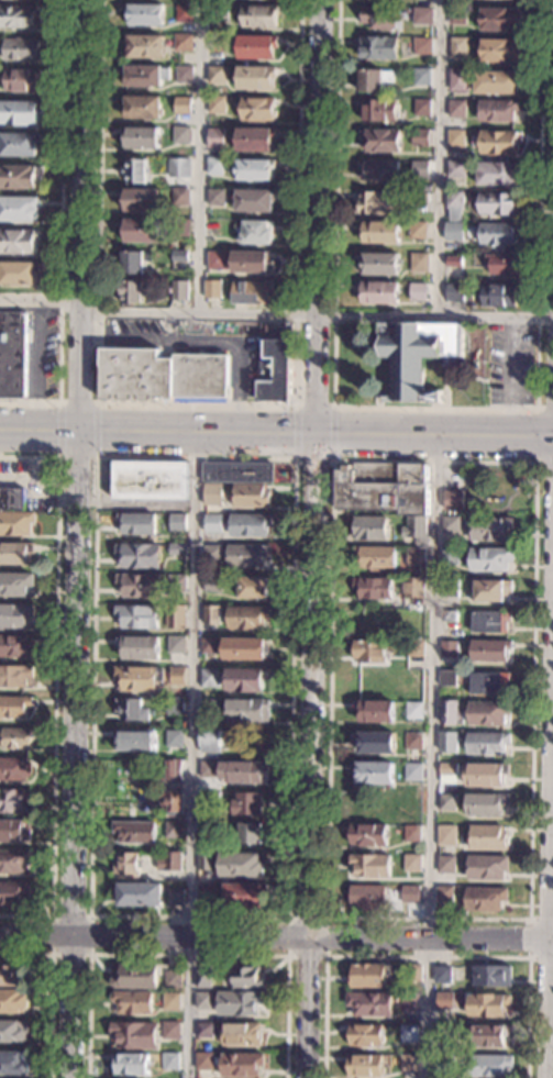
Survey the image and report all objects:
building: (219, 12)
building: (184, 13)
building: (145, 14)
building: (259, 15)
building: (421, 15)
building: (378, 16)
building: (457, 16)
building: (18, 18)
building: (499, 20)
building: (184, 42)
building: (218, 43)
building: (422, 45)
building: (144, 46)
building: (257, 46)
building: (458, 47)
building: (377, 48)
building: (21, 49)
building: (498, 51)
building: (184, 75)
building: (217, 75)
building: (421, 76)
building: (146, 77)
building: (255, 77)
building: (21, 80)
building: (369, 80)
building: (457, 80)
building: (497, 82)
building: (214, 92)
building: (217, 104)
building: (183, 105)
building: (143, 108)
building: (421, 108)
building: (258, 109)
building: (456, 109)
building: (378, 110)
building: (497, 111)
building: (21, 112)
building: (181, 135)
building: (215, 136)
building: (420, 137)
building: (455, 137)
building: (142, 138)
building: (254, 141)
building: (381, 142)
building: (496, 142)
building: (19, 145)
road: (198, 155)
road: (441, 157)
building: (213, 167)
building: (178, 168)
building: (420, 169)
building: (455, 169)
building: (253, 170)
building: (379, 170)
building: (135, 171)
building: (497, 173)
building: (19, 178)
building: (181, 197)
building: (215, 197)
building: (143, 201)
building: (254, 201)
building: (419, 202)
building: (377, 203)
building: (497, 203)
building: (454, 205)
building: (19, 209)
building: (180, 226)
building: (417, 230)
road: (60, 231)
building: (143, 231)
building: (453, 231)
building: (256, 233)
building: (379, 233)
building: (497, 234)
building: (18, 242)
building: (179, 256)
building: (217, 260)
building: (419, 260)
building: (454, 262)
building: (133, 263)
building: (251, 263)
building: (500, 264)
building: (380, 265)
building: (18, 274)
building: (179, 290)
building: (212, 290)
building: (131, 292)
building: (418, 292)
building: (455, 292)
building: (253, 293)
building: (379, 293)
building: (498, 296)
road: (41, 298)
road: (317, 312)
road: (203, 341)
building: (417, 355)
building: (12, 356)
parking lot: (510, 363)
building: (276, 364)
building: (163, 376)
road: (510, 376)
road: (77, 403)
road: (197, 405)
road: (313, 407)
road: (435, 407)
road: (58, 430)
road: (96, 430)
road: (295, 433)
road: (333, 433)
road: (276, 434)
road: (535, 436)
road: (77, 457)
road: (313, 459)
building: (237, 473)
building: (151, 481)
building: (383, 488)
building: (212, 494)
building: (252, 496)
building: (11, 499)
building: (453, 500)
road: (139, 504)
building: (15, 523)
building: (136, 523)
building: (177, 523)
building: (212, 523)
building: (451, 523)
building: (248, 524)
building: (369, 527)
building: (490, 530)
building: (416, 531)
road: (79, 538)
road: (317, 538)
building: (176, 549)
building: (16, 553)
building: (213, 554)
building: (139, 555)
building: (247, 556)
building: (449, 556)
building: (375, 557)
building: (416, 557)
building: (489, 558)
building: (15, 584)
building: (176, 584)
building: (212, 584)
building: (139, 585)
building: (252, 587)
building: (373, 588)
building: (412, 588)
building: (449, 588)
building: (490, 591)
building: (211, 614)
building: (15, 615)
building: (137, 616)
building: (175, 616)
building: (246, 618)
building: (489, 621)
building: (176, 644)
building: (209, 645)
building: (15, 646)
building: (139, 647)
building: (245, 647)
building: (413, 648)
building: (449, 649)
building: (489, 651)
building: (369, 652)
building: (14, 676)
building: (176, 677)
building: (139, 678)
building: (209, 678)
building: (446, 678)
building: (246, 679)
building: (487, 682)
road: (54, 684)
building: (14, 707)
building: (174, 707)
building: (209, 708)
building: (131, 710)
building: (247, 710)
building: (374, 711)
building: (413, 711)
building: (449, 713)
building: (487, 713)
building: (15, 738)
building: (134, 738)
building: (174, 740)
building: (209, 740)
building: (374, 742)
building: (412, 742)
building: (447, 742)
building: (486, 744)
road: (191, 756)
road: (431, 756)
building: (14, 769)
building: (174, 769)
building: (209, 769)
building: (242, 771)
building: (412, 771)
building: (374, 773)
building: (446, 773)
building: (485, 774)
building: (211, 798)
building: (14, 800)
building: (172, 802)
building: (446, 802)
building: (247, 804)
building: (486, 804)
building: (173, 830)
building: (14, 831)
building: (208, 831)
building: (134, 832)
building: (251, 833)
building: (411, 834)
building: (367, 835)
building: (445, 836)
building: (486, 837)
building: (13, 862)
building: (169, 862)
building: (206, 863)
building: (411, 863)
building: (126, 864)
building: (241, 865)
building: (445, 865)
building: (370, 866)
building: (486, 867)
road: (549, 885)
building: (206, 892)
building: (13, 893)
building: (137, 894)
building: (409, 894)
building: (444, 894)
building: (175, 897)
building: (242, 897)
building: (367, 897)
building: (485, 899)
road: (89, 916)
road: (528, 920)
road: (276, 935)
road: (528, 940)
road: (87, 954)
road: (186, 955)
road: (325, 956)
road: (425, 956)
building: (416, 974)
building: (367, 976)
building: (442, 976)
building: (493, 976)
building: (12, 977)
building: (135, 977)
building: (247, 978)
building: (173, 979)
building: (202, 979)
road: (49, 992)
building: (13, 1001)
building: (170, 1001)
building: (203, 1001)
building: (444, 1001)
building: (132, 1002)
building: (409, 1002)
building: (240, 1003)
building: (370, 1004)
building: (488, 1005)
road: (551, 1016)
building: (169, 1030)
building: (13, 1031)
building: (203, 1031)
building: (409, 1033)
building: (443, 1033)
building: (241, 1034)
building: (134, 1035)
building: (365, 1035)
building: (488, 1035)
building: (169, 1062)
building: (203, 1062)
building: (13, 1063)
building: (408, 1063)
building: (444, 1063)
building: (130, 1064)
building: (241, 1065)
building: (365, 1065)
building: (489, 1065)

